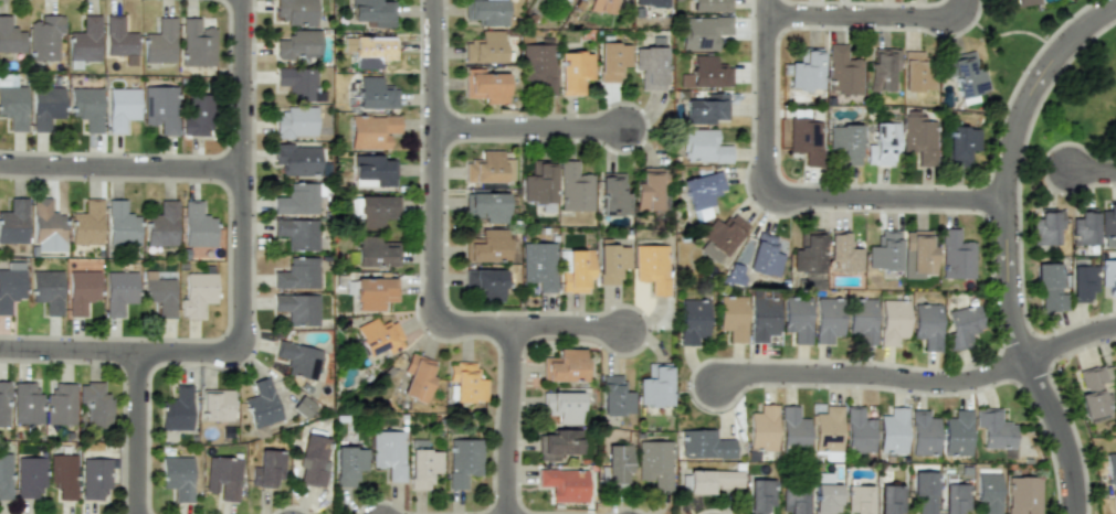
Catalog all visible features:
building: (572, 0)
building: (1000, 0)
building: (650, 2)
building: (1026, 2)
building: (602, 6)
building: (710, 6)
building: (296, 11)
building: (487, 11)
building: (375, 12)
road: (872, 18)
building: (704, 32)
building: (10, 36)
building: (44, 38)
building: (118, 38)
building: (85, 40)
building: (160, 42)
building: (198, 44)
building: (298, 44)
building: (485, 47)
building: (373, 51)
building: (613, 61)
building: (651, 65)
building: (539, 66)
building: (881, 69)
building: (807, 71)
building: (843, 71)
building: (914, 71)
building: (573, 72)
building: (966, 75)
building: (298, 84)
building: (485, 86)
building: (376, 94)
building: (13, 103)
building: (46, 106)
building: (87, 107)
park: (1081, 107)
building: (122, 108)
building: (161, 108)
building: (706, 109)
building: (197, 115)
building: (296, 122)
road: (527, 129)
building: (372, 131)
building: (918, 137)
building: (806, 139)
building: (845, 142)
building: (881, 143)
building: (961, 143)
building: (704, 147)
building: (297, 159)
building: (489, 168)
road: (119, 171)
building: (373, 171)
road: (1092, 173)
building: (539, 183)
building: (575, 188)
building: (649, 190)
building: (702, 193)
building: (613, 194)
road: (789, 199)
building: (298, 200)
road: (433, 202)
building: (487, 206)
building: (377, 210)
building: (13, 222)
building: (1107, 222)
building: (86, 223)
building: (122, 224)
building: (161, 225)
building: (198, 226)
building: (46, 227)
building: (1045, 227)
building: (1083, 228)
building: (297, 233)
building: (720, 236)
road: (1004, 245)
building: (884, 250)
building: (808, 251)
building: (376, 253)
building: (917, 253)
building: (841, 254)
building: (765, 256)
building: (956, 256)
building: (612, 263)
building: (539, 265)
building: (652, 267)
building: (577, 271)
building: (297, 274)
building: (1108, 276)
building: (486, 282)
building: (1082, 282)
building: (11, 285)
building: (1049, 287)
building: (46, 290)
building: (81, 290)
building: (118, 291)
building: (373, 292)
building: (159, 293)
building: (197, 293)
road: (240, 298)
building: (297, 309)
building: (731, 317)
building: (762, 317)
building: (797, 318)
building: (828, 319)
building: (862, 320)
building: (692, 321)
building: (892, 321)
building: (926, 325)
building: (962, 325)
road: (567, 329)
building: (378, 336)
road: (1070, 341)
building: (298, 360)
building: (564, 365)
road: (870, 374)
building: (417, 377)
building: (466, 382)
building: (654, 386)
building: (1092, 392)
building: (614, 396)
building: (3, 404)
building: (25, 404)
building: (60, 404)
building: (95, 404)
building: (261, 404)
building: (215, 405)
building: (562, 406)
building: (176, 409)
road: (507, 420)
building: (762, 428)
building: (792, 429)
building: (828, 429)
building: (994, 429)
building: (857, 431)
building: (892, 431)
building: (923, 433)
building: (957, 433)
road: (135, 435)
building: (557, 443)
building: (704, 445)
building: (388, 453)
building: (312, 461)
building: (463, 461)
building: (617, 463)
building: (654, 463)
building: (348, 465)
building: (423, 468)
building: (266, 469)
building: (1110, 471)
building: (63, 475)
building: (4, 476)
building: (177, 476)
building: (29, 478)
building: (222, 478)
building: (94, 479)
building: (708, 481)
building: (564, 484)
building: (924, 491)
building: (989, 492)
building: (759, 495)
building: (1023, 495)
building: (955, 497)
building: (793, 499)
building: (825, 499)
building: (857, 499)
building: (889, 500)

